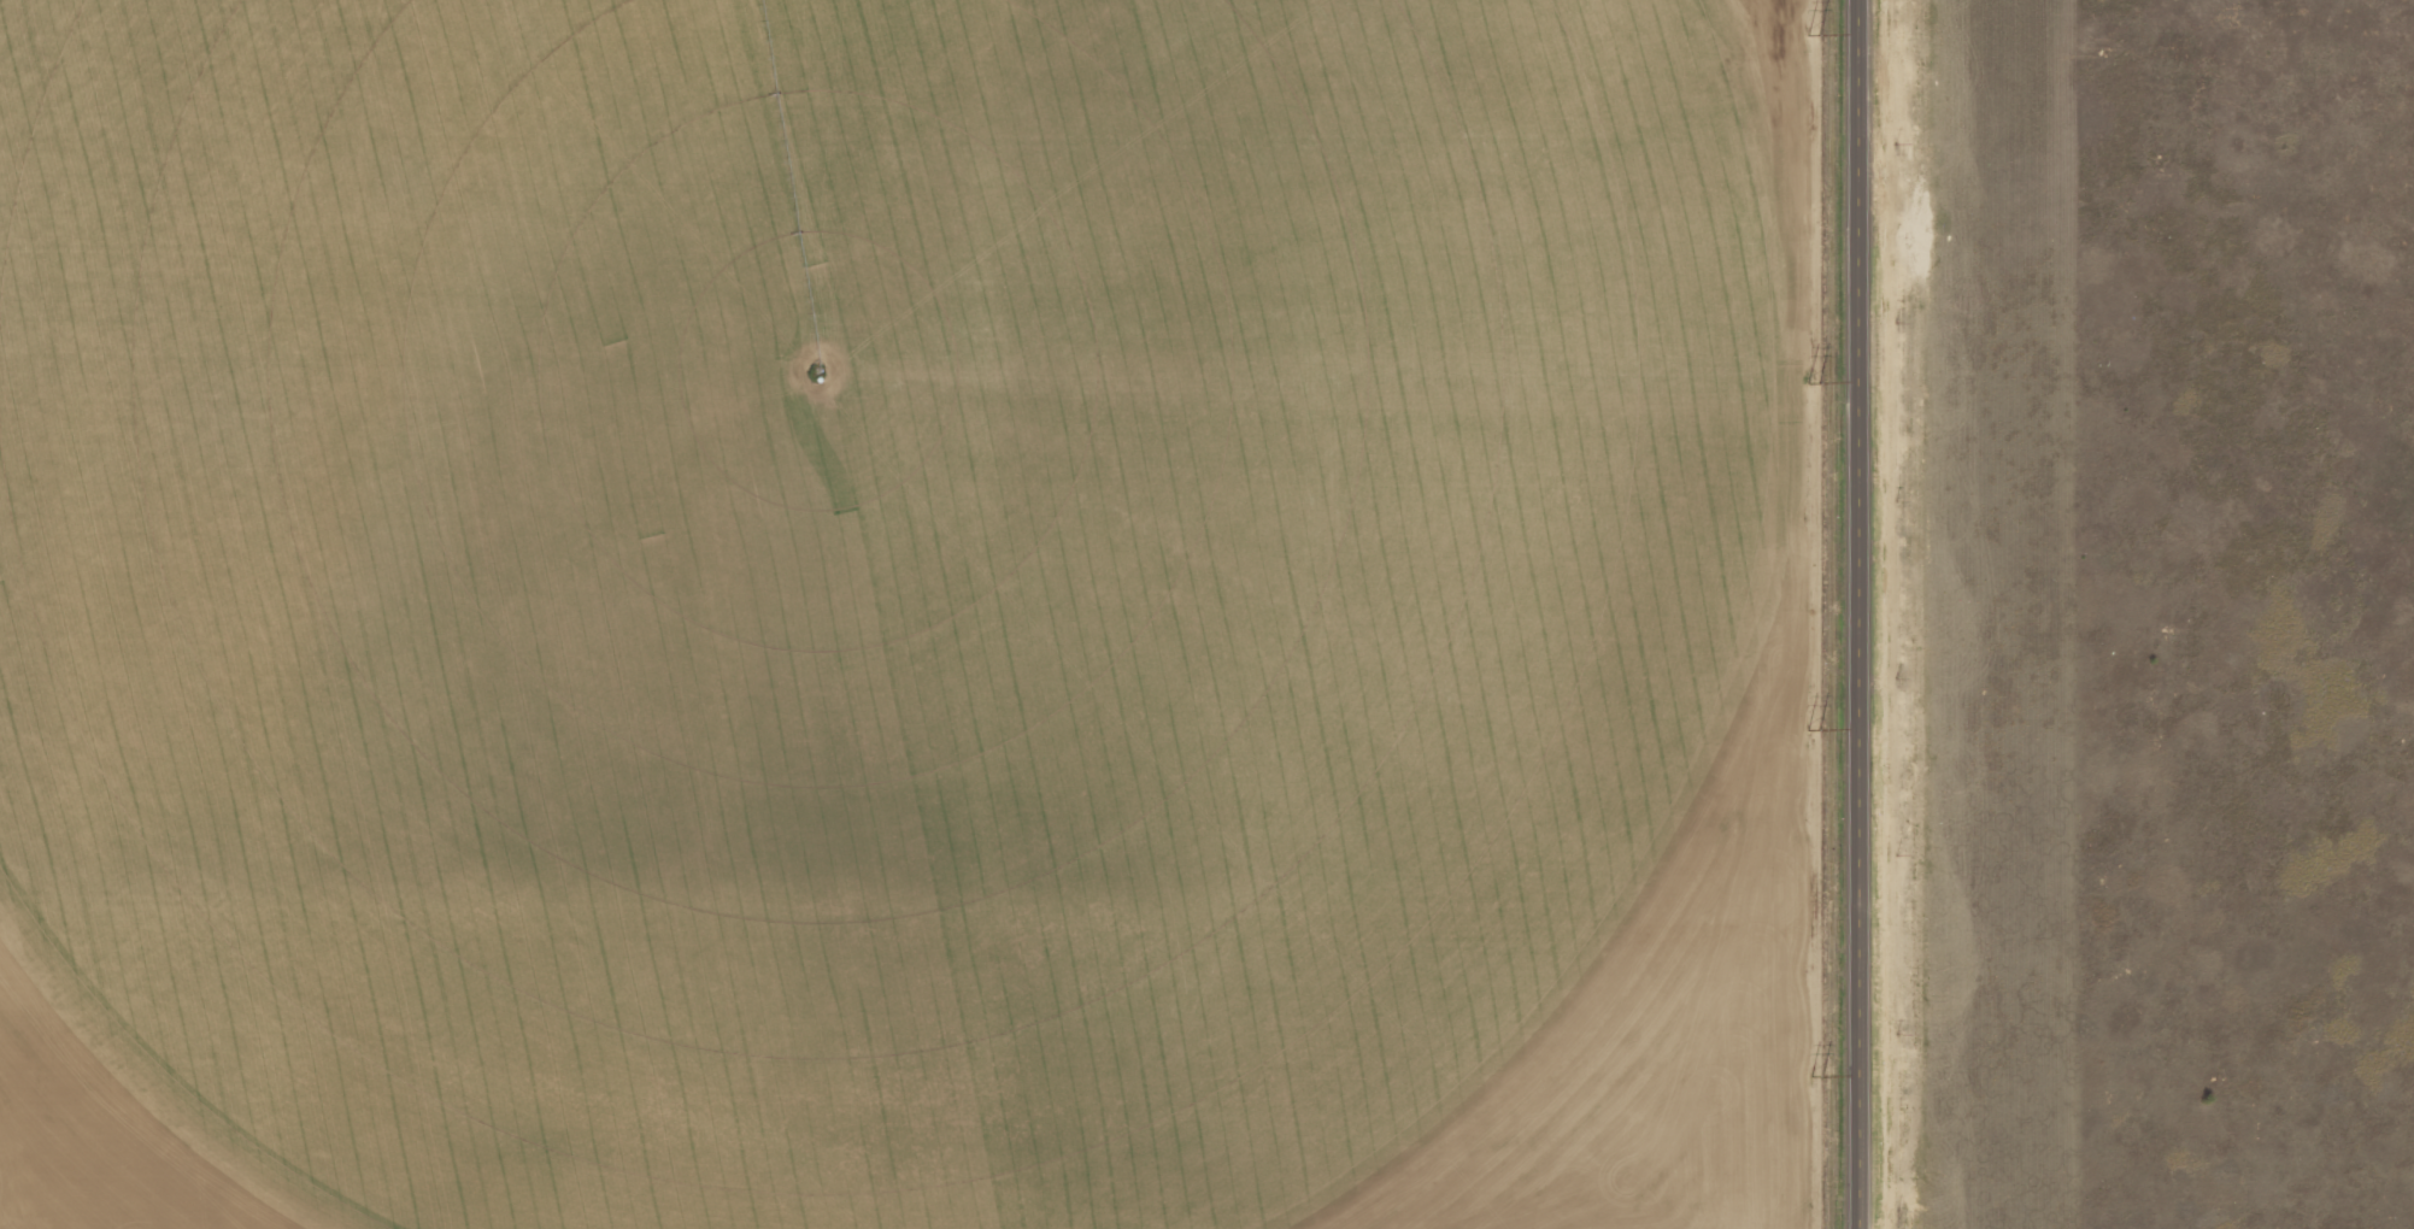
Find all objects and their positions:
power tower: (1815, 36)
power tower: (1814, 383)
crop: (862, 575)
road: (1858, 614)
power tower: (1813, 733)
power tower: (1814, 1078)

